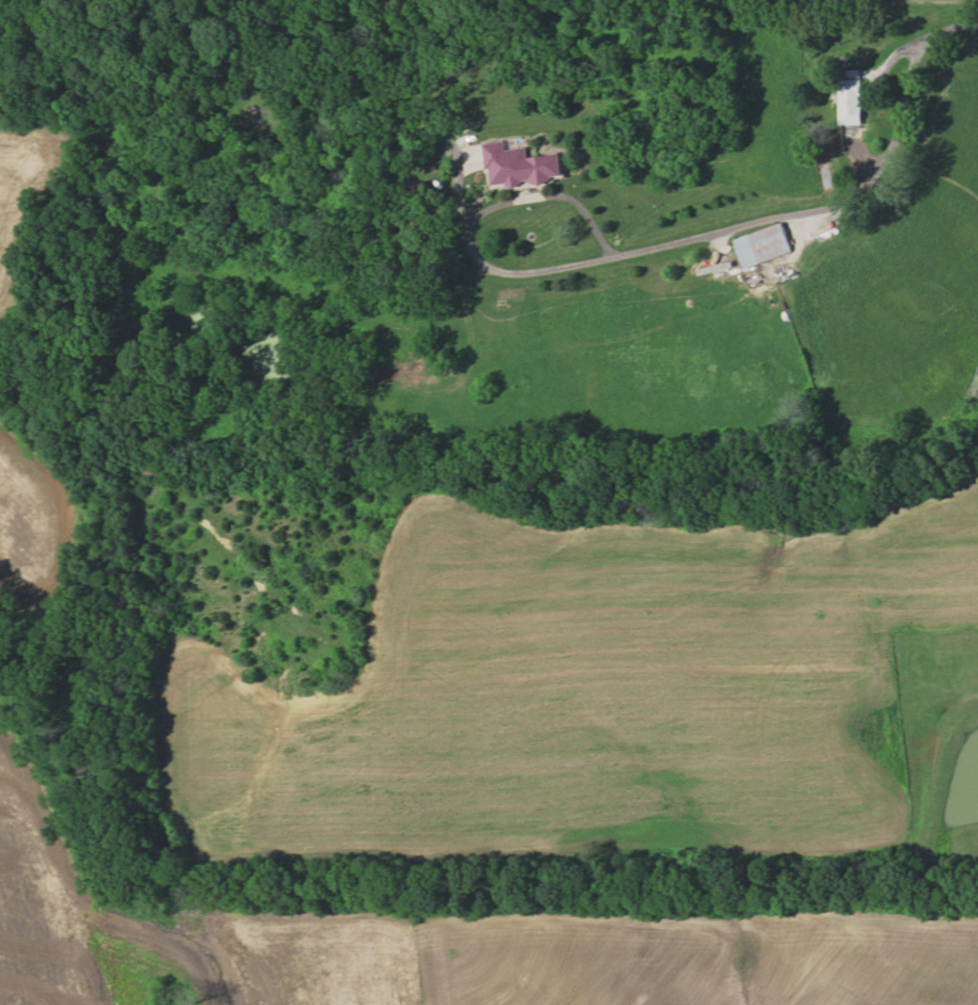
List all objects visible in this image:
building: (850, 99)
building: (519, 165)
road: (736, 233)
building: (763, 244)
building: (152, 470)

